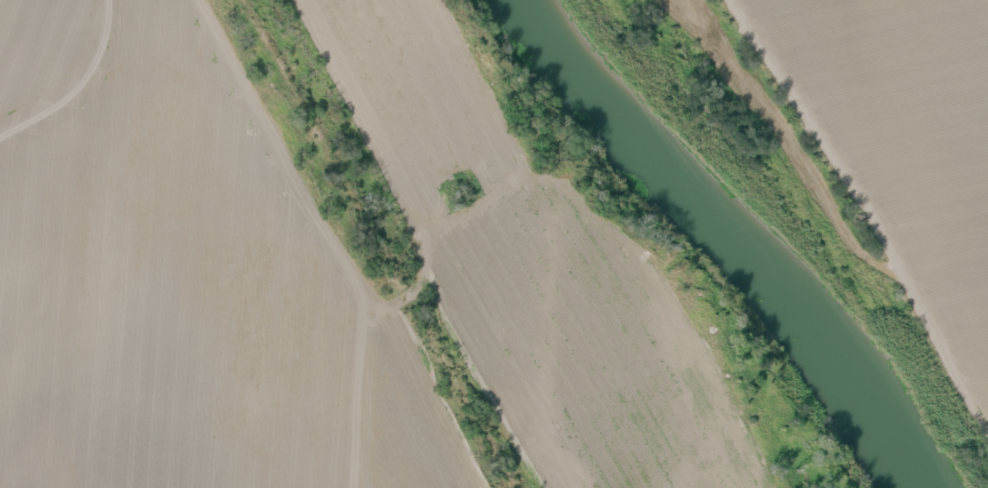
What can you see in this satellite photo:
road: (859, 227)
river: (744, 235)

